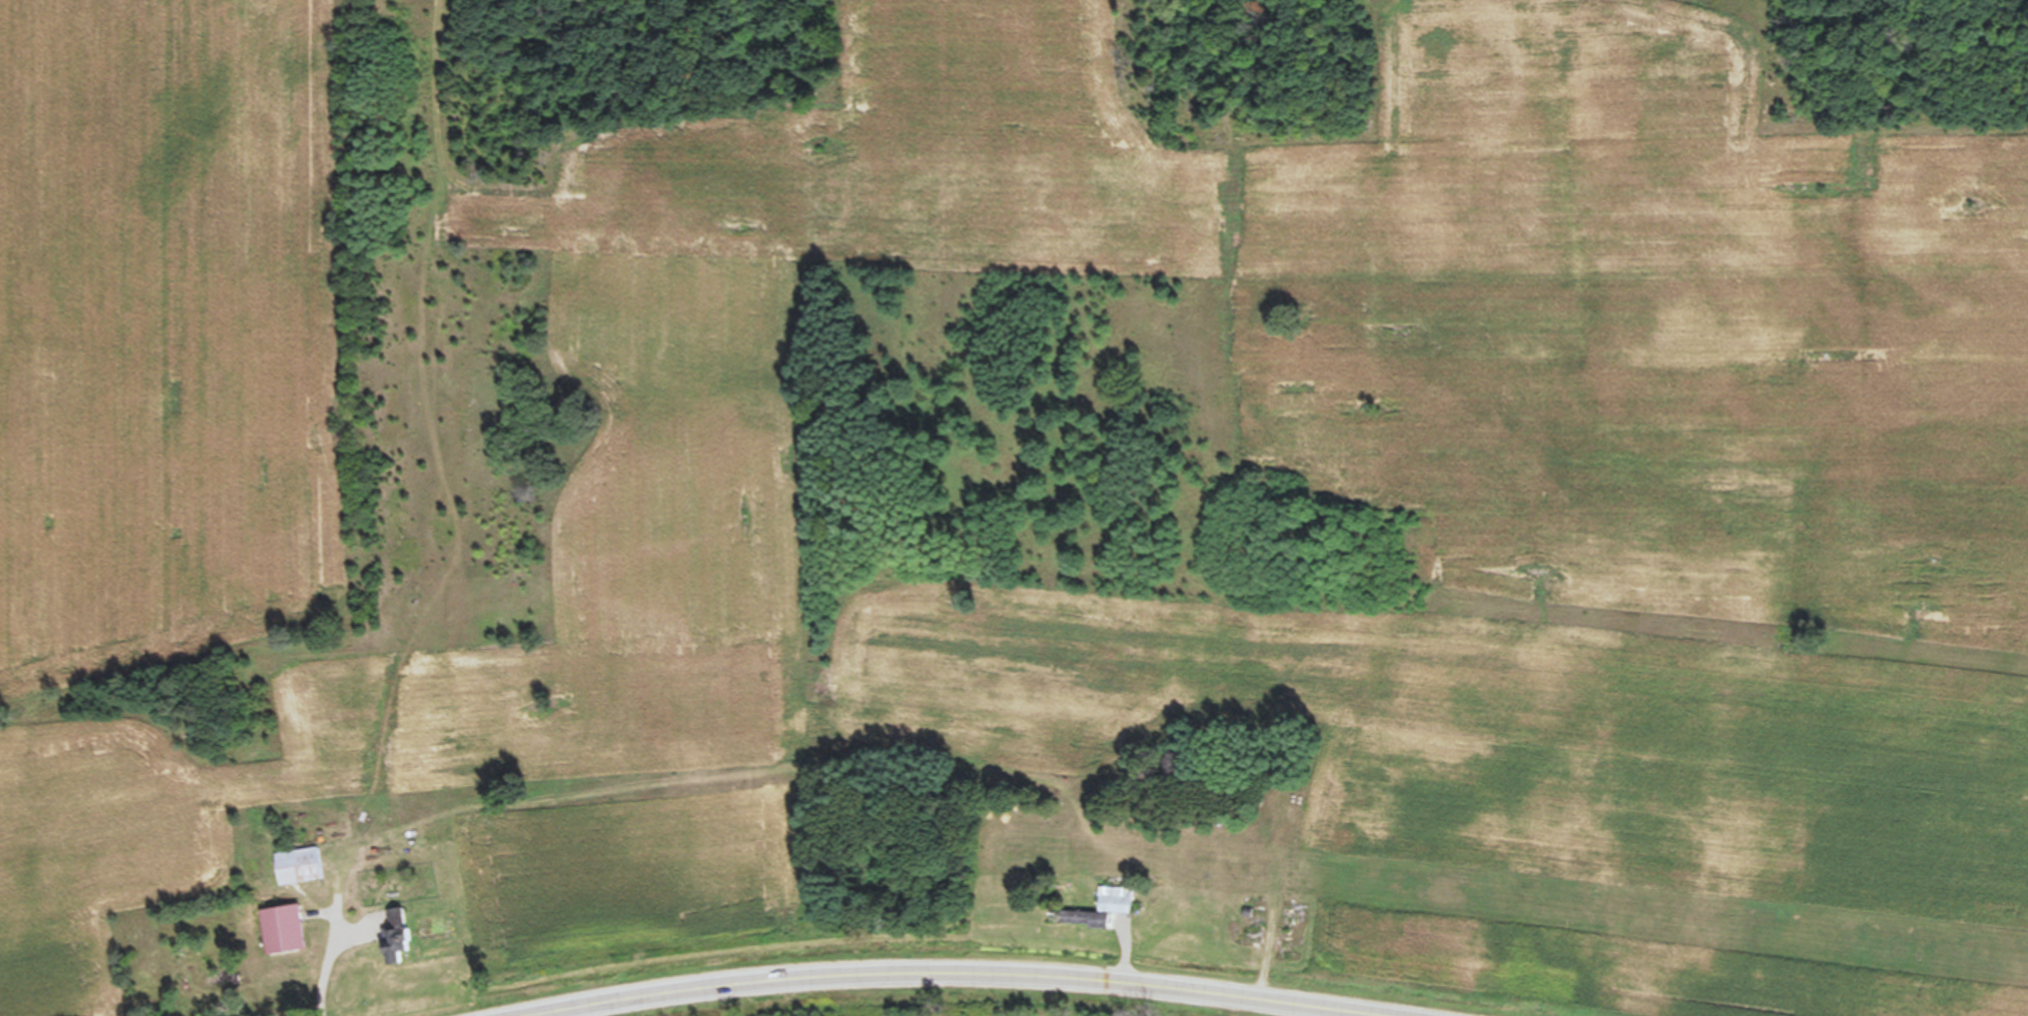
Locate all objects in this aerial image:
building: (296, 875)
building: (1113, 908)
airport runway: (1676, 925)
building: (279, 938)
building: (1285, 938)
building: (1249, 940)
building: (393, 947)
road: (956, 989)
crop: (1051, 1015)

